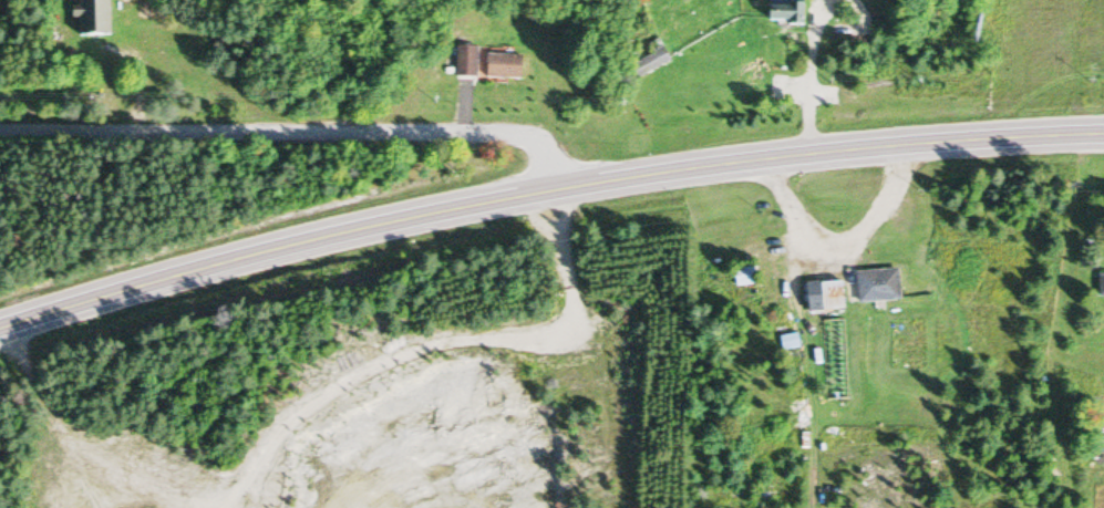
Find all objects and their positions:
building: (772, 14)
building: (646, 61)
building: (461, 62)
building: (497, 66)
road: (298, 127)
road: (544, 188)
building: (1098, 286)
building: (871, 287)
building: (817, 298)

